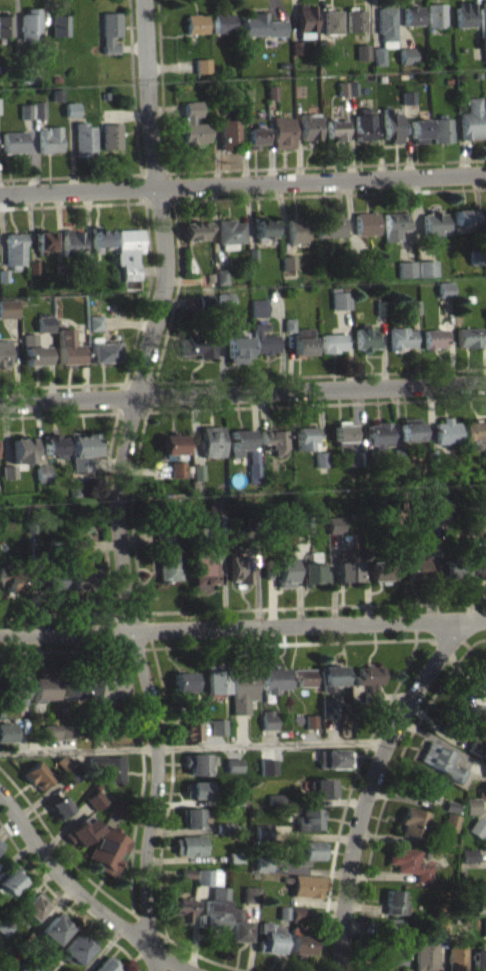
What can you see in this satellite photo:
building: (412, 14)
building: (437, 14)
building: (465, 14)
building: (355, 19)
building: (305, 20)
building: (223, 22)
building: (333, 22)
building: (6, 23)
building: (195, 23)
building: (30, 24)
building: (59, 24)
building: (261, 25)
building: (387, 26)
building: (484, 26)
building: (110, 30)
building: (325, 46)
building: (296, 47)
building: (363, 51)
building: (379, 55)
building: (407, 55)
building: (448, 56)
building: (201, 64)
building: (232, 70)
building: (202, 71)
building: (25, 74)
building: (25, 81)
road: (161, 85)
building: (352, 87)
building: (343, 88)
building: (271, 91)
building: (57, 94)
building: (347, 94)
building: (104, 95)
building: (407, 96)
road: (133, 100)
building: (408, 104)
building: (37, 108)
building: (70, 108)
building: (24, 110)
building: (471, 119)
building: (364, 124)
building: (193, 125)
building: (392, 125)
building: (309, 127)
building: (442, 128)
building: (336, 129)
building: (419, 130)
building: (282, 132)
building: (229, 134)
building: (111, 135)
building: (254, 137)
building: (82, 138)
building: (49, 139)
building: (12, 141)
road: (313, 166)
road: (70, 175)
road: (243, 182)
road: (168, 185)
road: (322, 194)
road: (151, 201)
road: (72, 204)
building: (464, 216)
building: (366, 222)
building: (434, 222)
building: (329, 225)
building: (394, 225)
building: (263, 227)
building: (195, 228)
building: (296, 230)
building: (230, 233)
building: (100, 238)
building: (43, 240)
building: (71, 242)
building: (14, 249)
building: (129, 255)
building: (252, 255)
building: (477, 256)
building: (358, 261)
building: (288, 262)
building: (91, 264)
building: (33, 266)
building: (427, 267)
building: (406, 269)
building: (61, 272)
building: (3, 274)
building: (209, 276)
building: (221, 276)
building: (445, 289)
road: (148, 292)
road: (176, 292)
building: (225, 300)
building: (340, 300)
building: (205, 301)
building: (413, 306)
building: (258, 307)
building: (381, 307)
building: (8, 308)
building: (412, 313)
building: (45, 322)
building: (95, 322)
building: (289, 324)
building: (400, 337)
building: (467, 337)
building: (365, 338)
building: (434, 338)
building: (264, 339)
building: (303, 341)
building: (332, 342)
building: (235, 344)
building: (200, 345)
building: (67, 346)
building: (33, 350)
building: (104, 350)
building: (3, 353)
road: (124, 384)
road: (62, 385)
road: (243, 392)
road: (147, 399)
building: (410, 428)
building: (446, 430)
building: (474, 430)
building: (342, 433)
building: (378, 435)
building: (305, 438)
building: (272, 440)
building: (211, 441)
building: (53, 444)
building: (172, 444)
building: (22, 449)
building: (84, 449)
road: (107, 454)
building: (398, 454)
building: (432, 456)
building: (484, 456)
building: (364, 457)
building: (320, 458)
building: (351, 458)
building: (484, 464)
building: (177, 469)
building: (253, 469)
building: (8, 471)
building: (197, 471)
building: (42, 472)
building: (8, 478)
road: (118, 485)
road: (132, 496)
building: (442, 508)
building: (216, 512)
building: (335, 523)
building: (303, 526)
building: (75, 545)
building: (75, 552)
building: (166, 555)
building: (479, 560)
building: (411, 563)
building: (241, 567)
building: (451, 567)
building: (381, 568)
building: (202, 570)
building: (280, 570)
building: (313, 570)
building: (348, 570)
building: (12, 577)
building: (49, 579)
building: (77, 579)
road: (64, 614)
road: (147, 622)
road: (243, 624)
road: (284, 643)
road: (76, 650)
building: (304, 676)
building: (331, 676)
building: (215, 678)
building: (273, 680)
building: (370, 680)
building: (183, 681)
building: (478, 684)
building: (16, 687)
building: (73, 687)
building: (42, 688)
building: (105, 688)
building: (242, 689)
building: (331, 707)
building: (268, 719)
building: (453, 719)
building: (311, 721)
building: (218, 726)
building: (189, 727)
building: (311, 727)
building: (69, 730)
building: (6, 731)
building: (51, 731)
building: (69, 737)
road: (193, 747)
building: (476, 747)
building: (333, 758)
building: (268, 759)
building: (441, 761)
building: (62, 762)
building: (196, 763)
building: (234, 764)
building: (106, 767)
building: (74, 772)
building: (267, 772)
building: (36, 775)
building: (485, 776)
road: (142, 780)
road: (370, 782)
building: (321, 787)
road: (352, 787)
building: (422, 787)
building: (196, 789)
road: (387, 789)
building: (482, 792)
road: (169, 793)
building: (235, 798)
building: (95, 799)
building: (274, 799)
building: (57, 806)
building: (95, 806)
building: (450, 806)
building: (472, 806)
building: (117, 807)
building: (118, 815)
building: (191, 816)
building: (308, 819)
building: (448, 821)
building: (413, 822)
building: (222, 826)
building: (477, 826)
building: (81, 831)
building: (263, 831)
building: (1, 843)
building: (188, 844)
building: (1, 849)
building: (106, 850)
building: (307, 850)
road: (65, 852)
building: (467, 855)
building: (234, 856)
building: (408, 862)
building: (468, 862)
building: (261, 863)
building: (186, 873)
building: (206, 876)
building: (10, 880)
building: (304, 884)
building: (249, 894)
road: (84, 895)
building: (394, 902)
road: (63, 903)
building: (33, 904)
building: (480, 906)
building: (179, 908)
building: (213, 909)
building: (281, 912)
building: (299, 914)
building: (236, 925)
building: (394, 925)
building: (4, 926)
building: (55, 927)
building: (484, 927)
building: (441, 931)
road: (158, 934)
building: (268, 937)
building: (298, 941)
building: (75, 947)
building: (391, 952)
building: (425, 954)
building: (456, 957)
road: (205, 958)
building: (479, 959)
building: (30, 965)
building: (106, 965)

